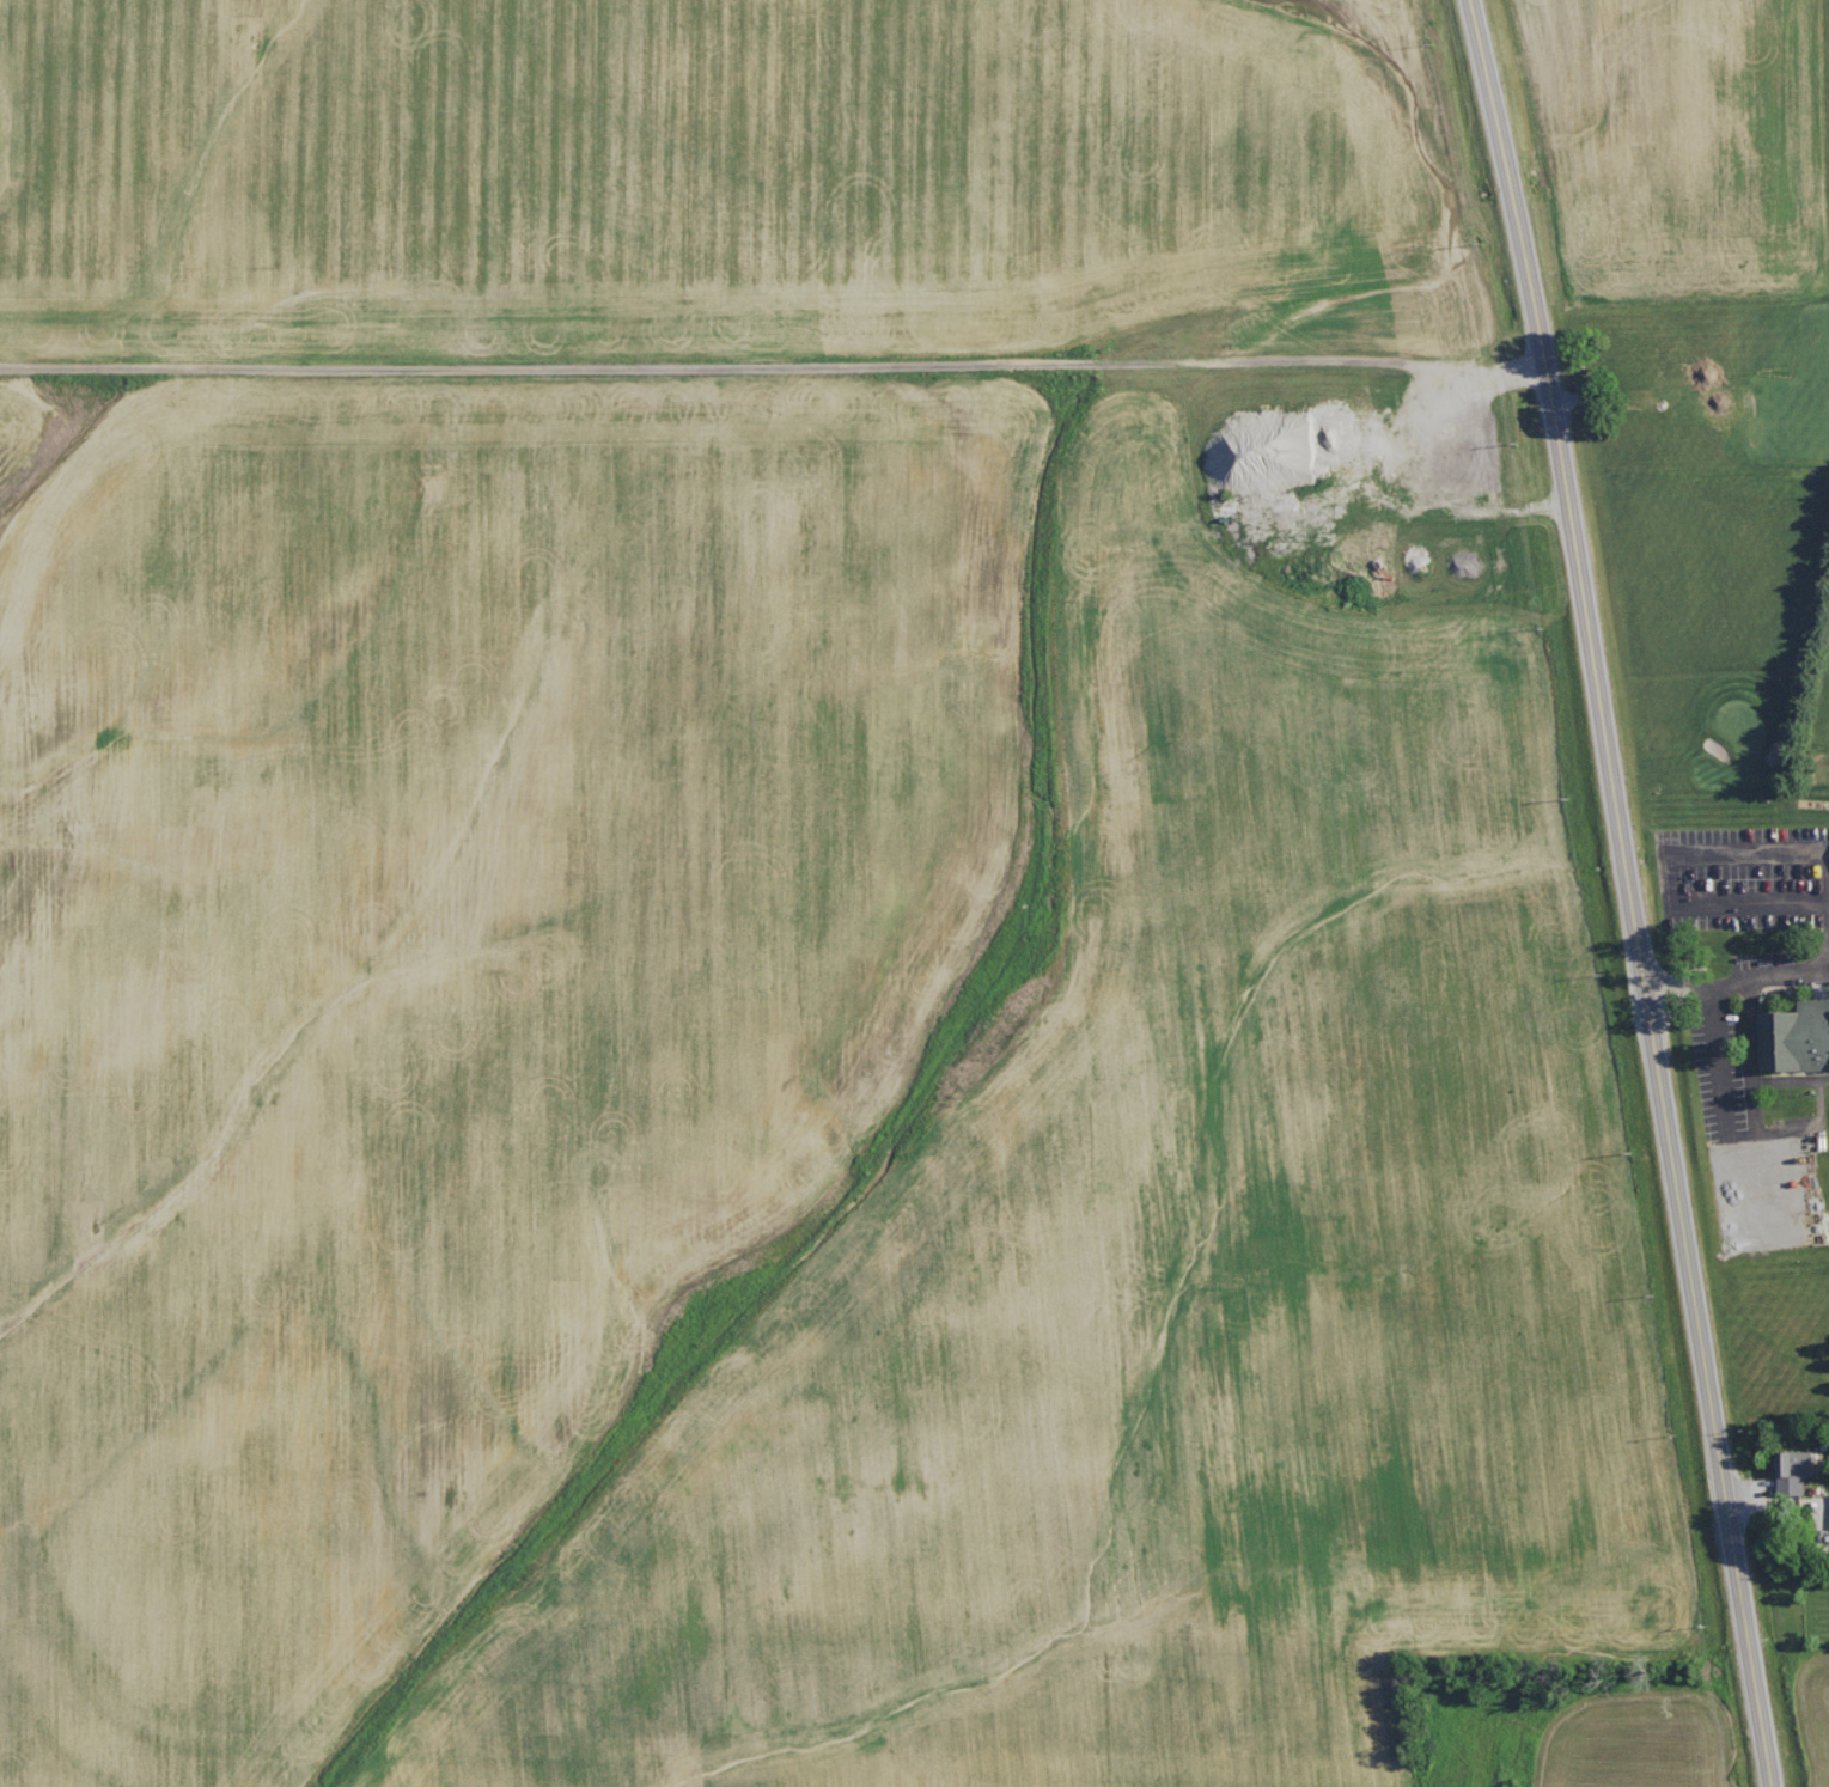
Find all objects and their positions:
park: (1727, 671)
road: (1601, 719)
parking lot: (1760, 864)
road: (1669, 879)
road: (1629, 892)
road: (1737, 982)
building: (1794, 1033)
road: (1754, 1067)
road: (1755, 1105)
road: (1726, 1132)
building: (1792, 1469)

